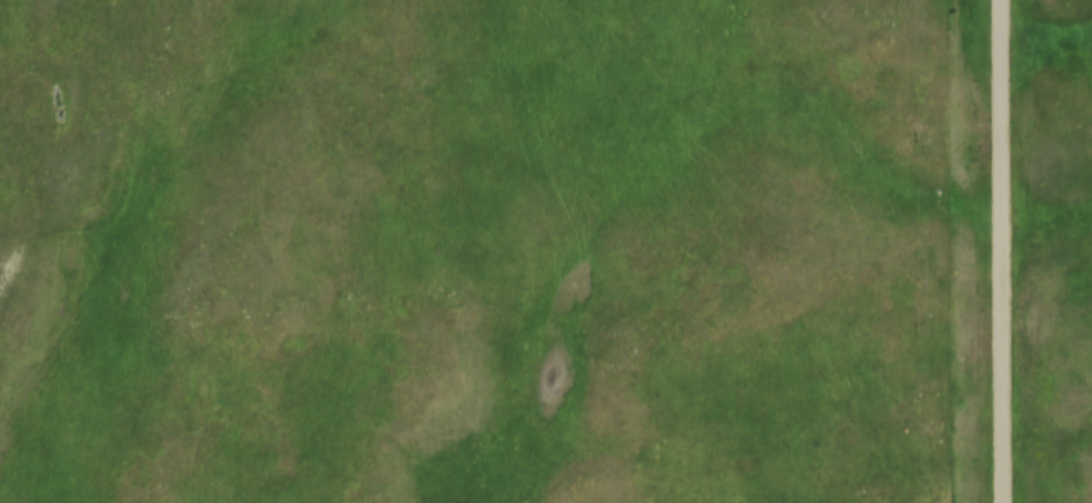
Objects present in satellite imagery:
road: (1003, 251)

